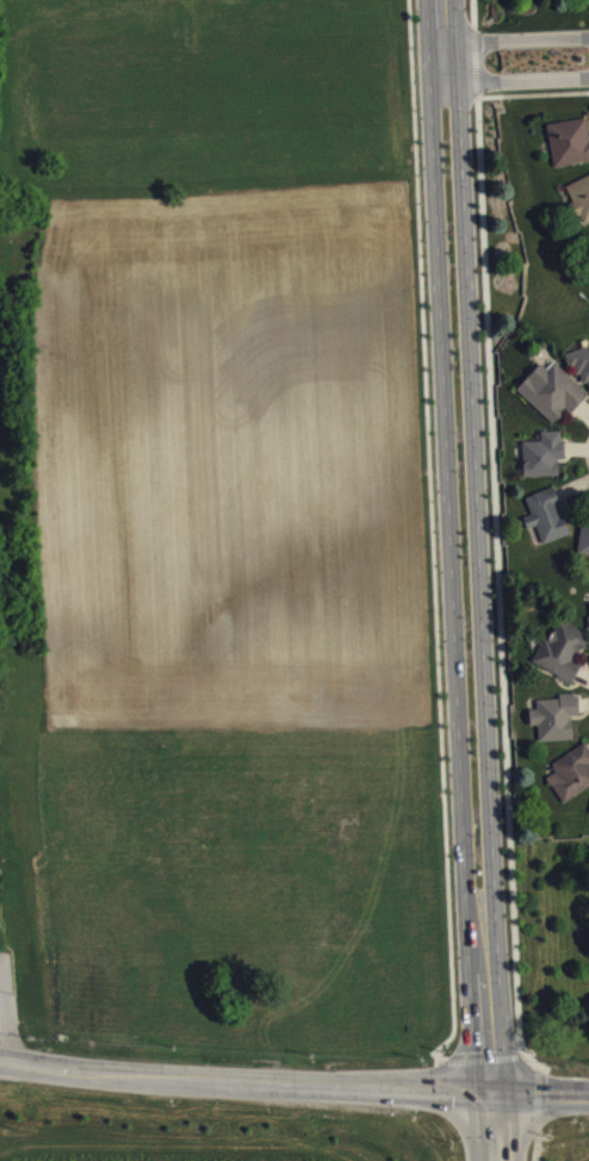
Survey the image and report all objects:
building: (563, 2)
road: (441, 41)
road: (515, 41)
road: (515, 80)
building: (570, 150)
building: (582, 205)
building: (581, 370)
building: (554, 398)
building: (545, 462)
road: (476, 497)
road: (447, 499)
building: (548, 523)
road: (432, 529)
building: (584, 546)
road: (497, 584)
building: (564, 658)
building: (557, 725)
building: (572, 782)
road: (486, 1002)
road: (477, 1061)
road: (293, 1082)
traffic signals: (492, 1092)
road: (494, 1126)

